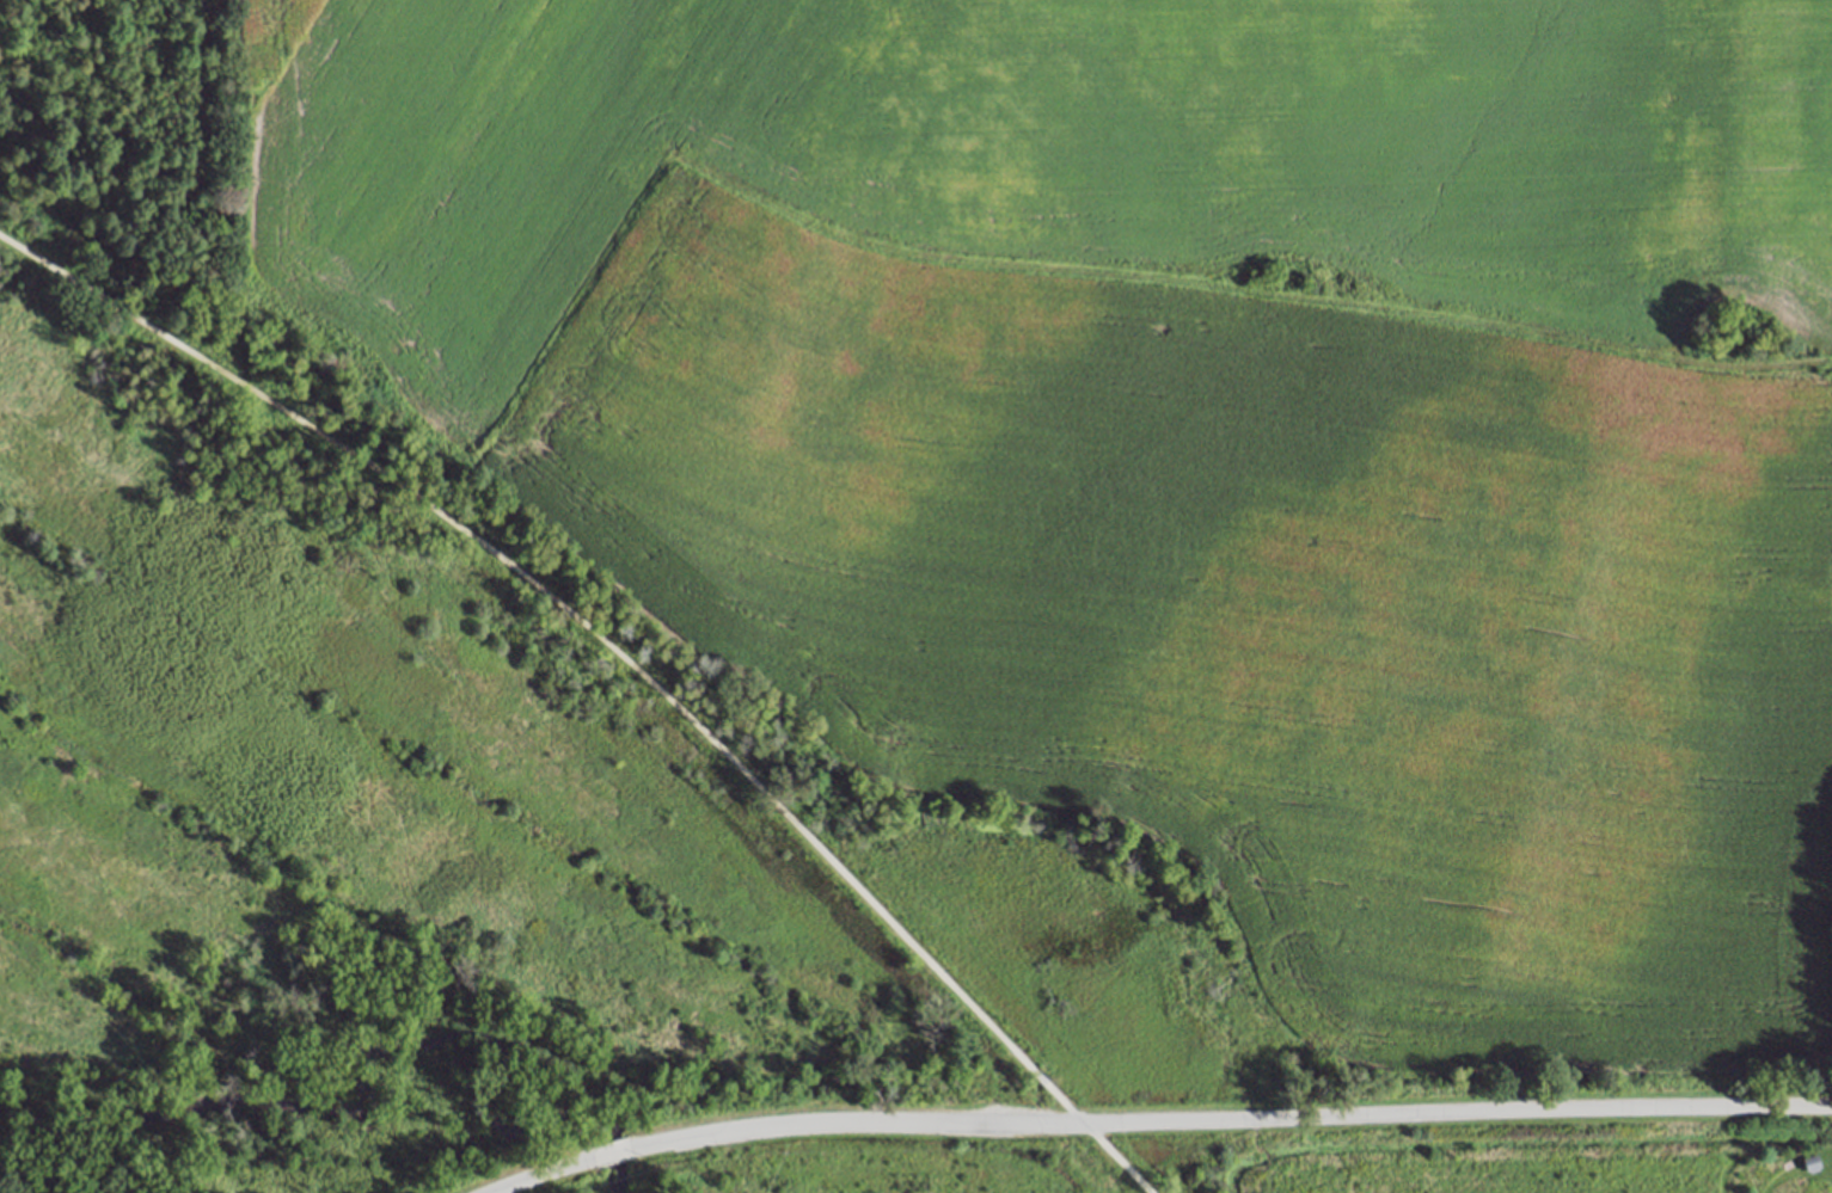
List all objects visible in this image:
road: (619, 662)
road: (1229, 1120)
road: (609, 1154)
road: (541, 1175)

